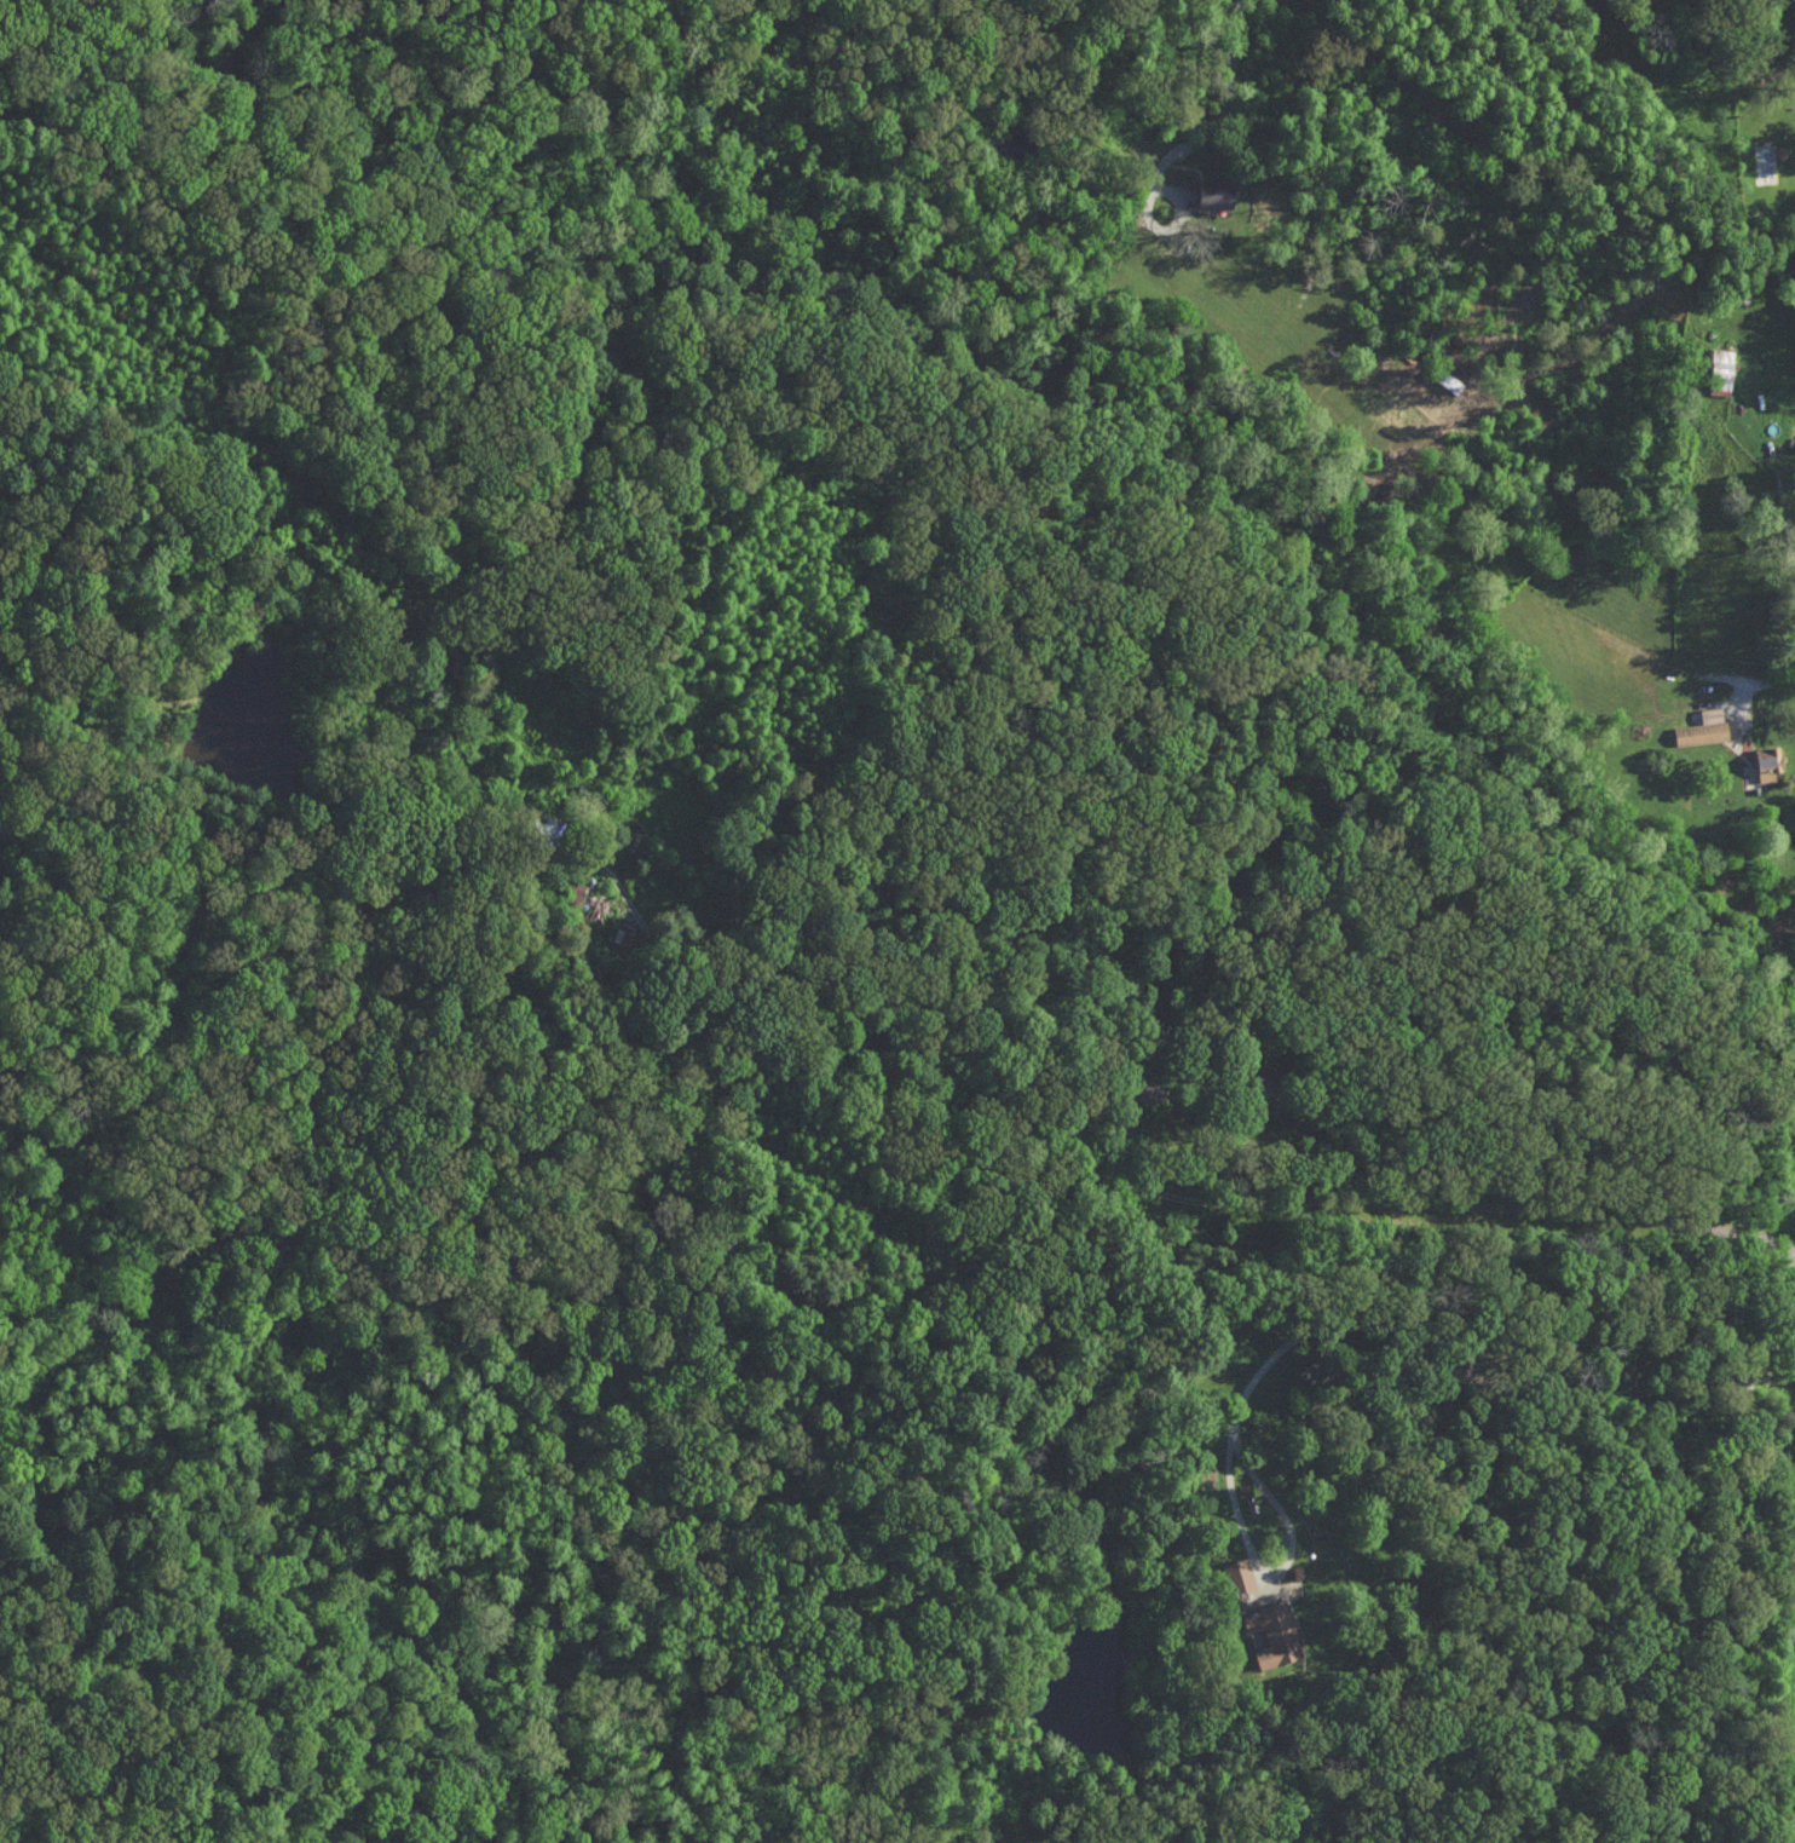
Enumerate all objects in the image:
road: (1201, 116)
building: (1219, 192)
road: (1748, 459)
road: (1755, 685)
building: (1697, 728)
building: (1761, 762)
road: (1282, 1154)
road: (1016, 1180)
road: (1263, 1365)
road: (1617, 1392)
road: (1249, 1545)
building: (1237, 1573)
building: (1268, 1632)

